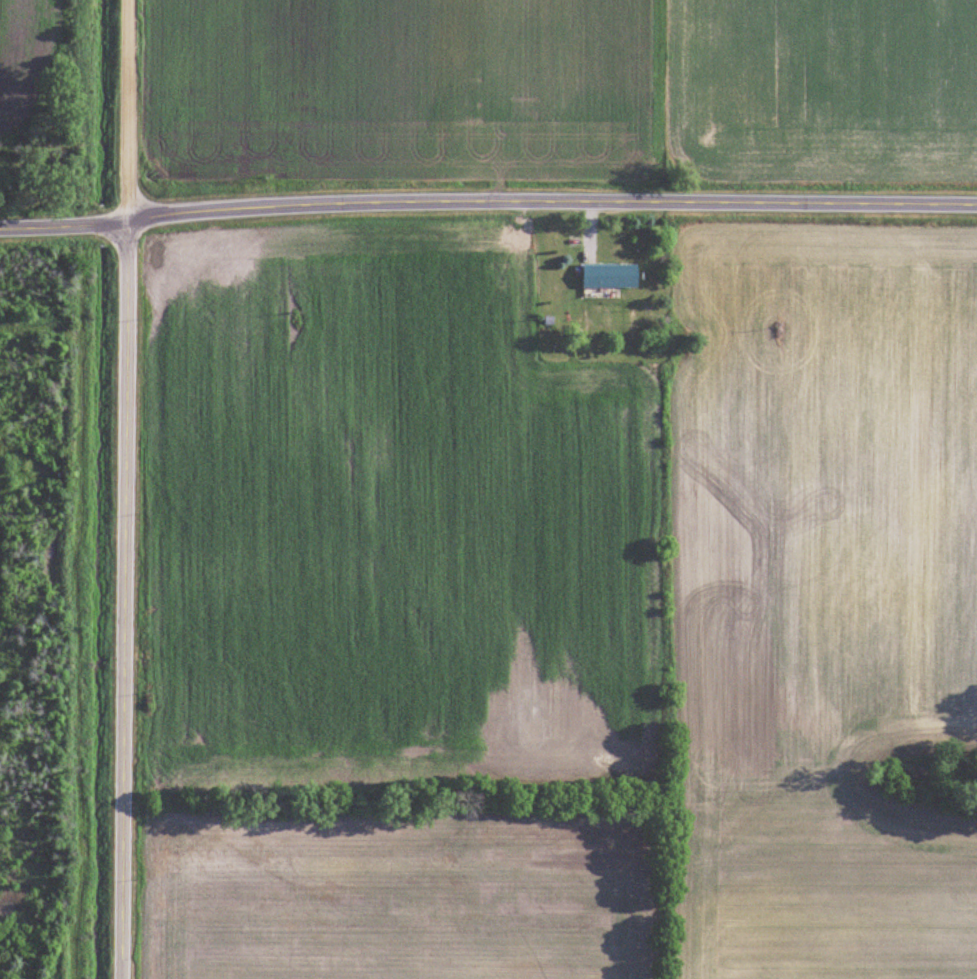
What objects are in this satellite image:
road: (119, 104)
road: (546, 192)
road: (58, 215)
building: (611, 274)
road: (117, 594)

